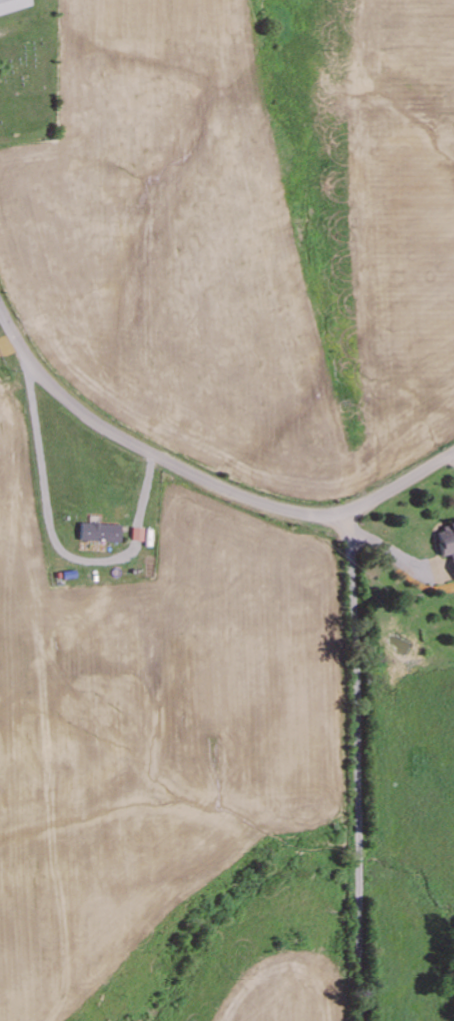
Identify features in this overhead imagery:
building: (12, 5)
park: (28, 85)
road: (198, 477)
road: (68, 530)
building: (100, 532)
building: (447, 541)

